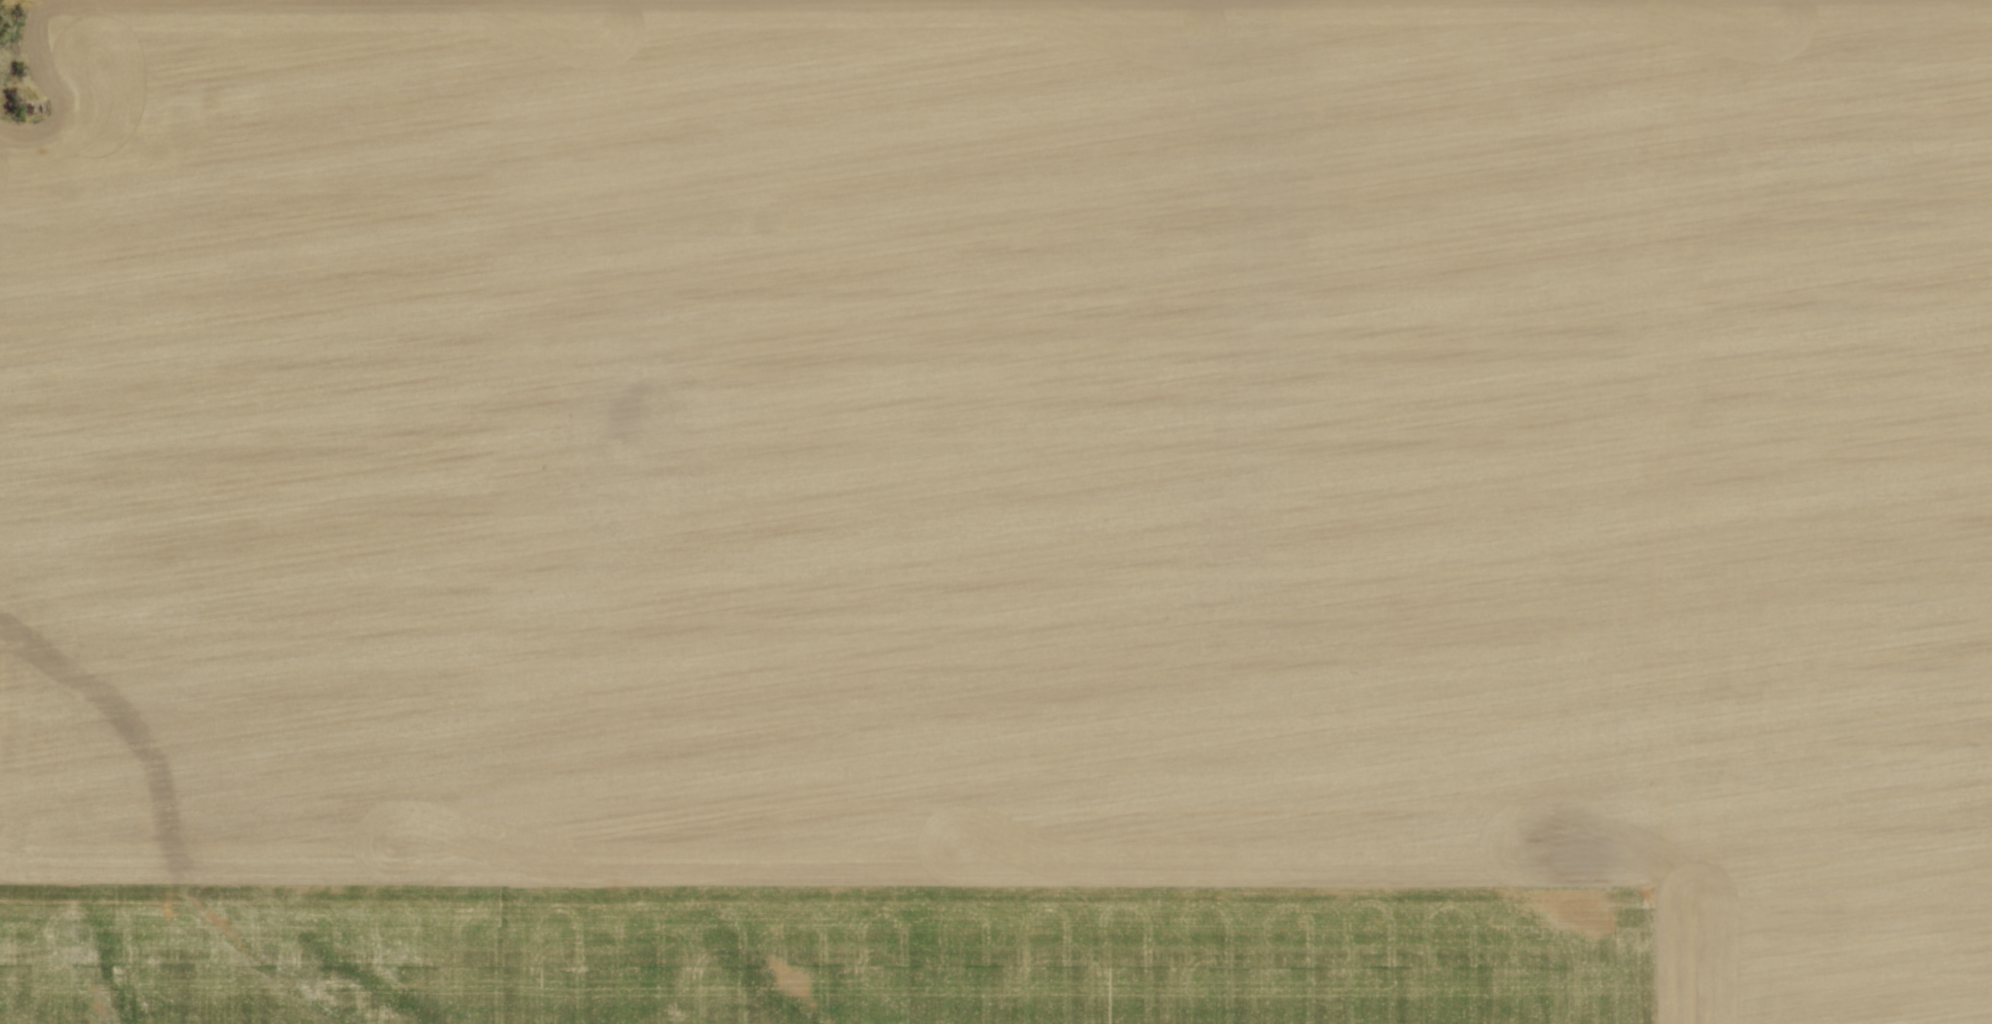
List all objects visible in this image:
crop: (998, 513)

